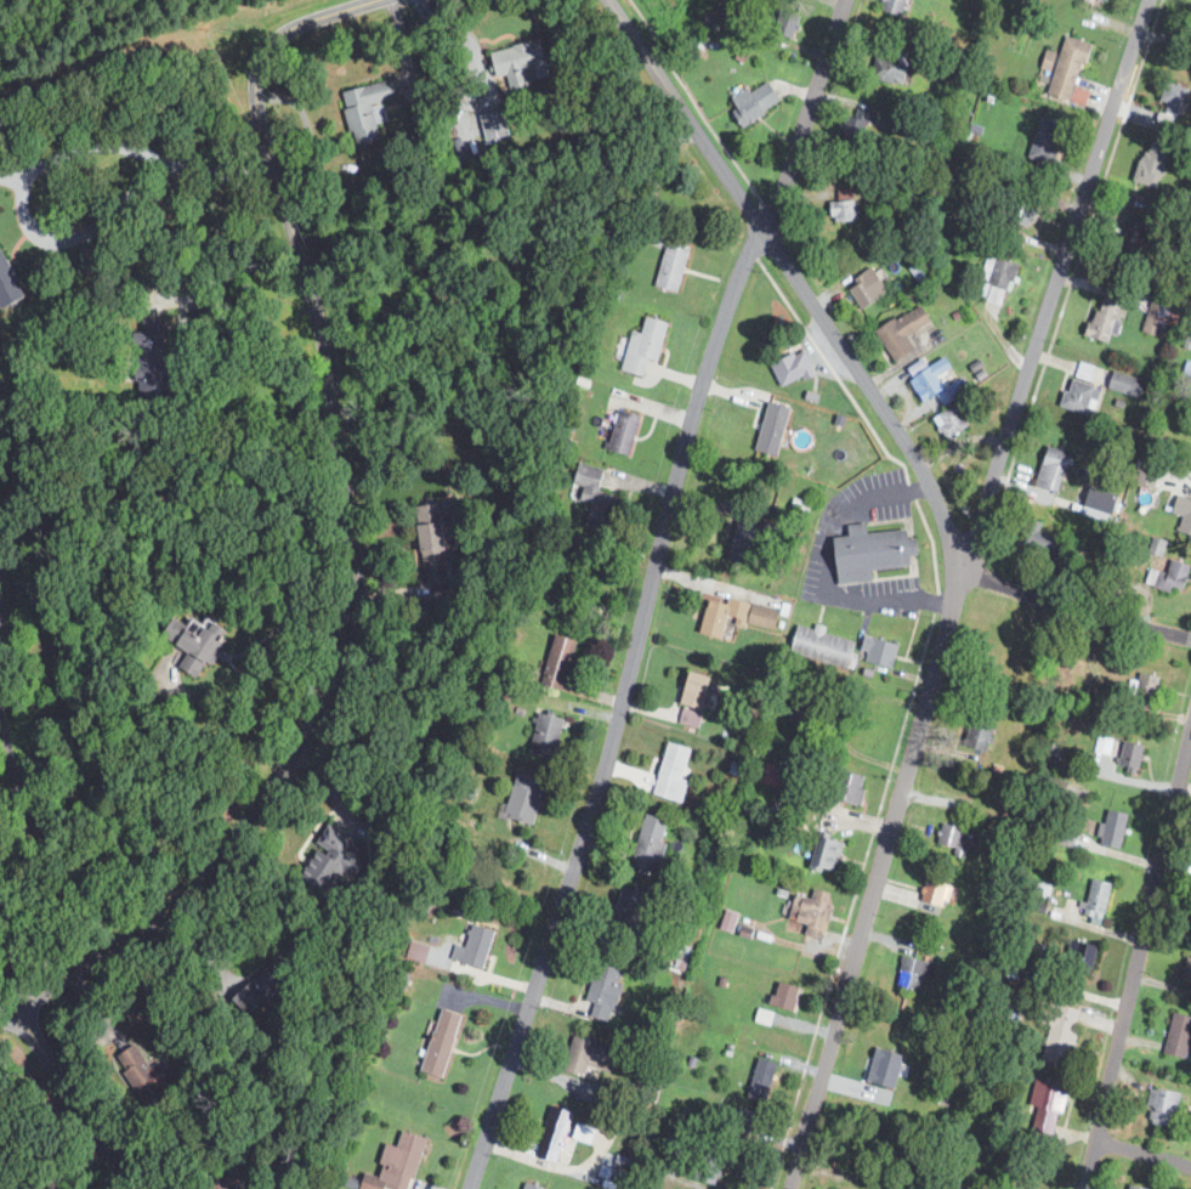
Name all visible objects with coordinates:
building: (896, 6)
building: (788, 24)
building: (514, 63)
building: (891, 69)
building: (1071, 69)
building: (1169, 97)
building: (758, 101)
building: (363, 111)
building: (857, 125)
building: (1048, 141)
road: (44, 164)
building: (1153, 164)
building: (838, 210)
building: (1023, 210)
building: (1130, 240)
building: (674, 266)
road: (229, 270)
building: (998, 276)
road: (795, 277)
building: (6, 285)
building: (868, 288)
road: (1066, 288)
building: (1162, 317)
building: (1108, 319)
building: (904, 332)
building: (645, 346)
building: (794, 369)
building: (1082, 369)
building: (146, 370)
building: (924, 375)
building: (1127, 384)
building: (937, 386)
building: (1082, 397)
building: (953, 421)
building: (775, 430)
building: (626, 434)
building: (1054, 469)
building: (1147, 475)
building: (599, 499)
building: (1184, 513)
road: (351, 536)
building: (427, 538)
building: (748, 538)
building: (1040, 539)
building: (1158, 547)
building: (872, 553)
road: (823, 571)
building: (1172, 578)
road: (954, 588)
road: (647, 590)
road: (1071, 607)
building: (738, 616)
building: (198, 645)
building: (824, 647)
building: (880, 652)
building: (560, 662)
building: (1147, 690)
building: (696, 700)
road: (908, 700)
building: (981, 735)
building: (548, 736)
building: (1133, 758)
building: (674, 774)
building: (849, 788)
building: (527, 798)
building: (1116, 830)
building: (1065, 834)
building: (954, 838)
building: (651, 843)
building: (828, 854)
building: (334, 865)
road: (22, 866)
building: (938, 891)
building: (1095, 898)
building: (812, 913)
building: (1022, 930)
building: (476, 947)
building: (1081, 956)
road: (1138, 959)
building: (1187, 972)
building: (913, 973)
building: (266, 986)
building: (606, 992)
building: (787, 996)
road: (7, 1013)
building: (1062, 1036)
building: (1180, 1037)
building: (443, 1043)
building: (590, 1057)
building: (880, 1066)
building: (143, 1074)
building: (764, 1081)
building: (873, 1089)
road: (75, 1099)
building: (1049, 1108)
building: (1167, 1109)
building: (737, 1119)
building: (558, 1137)
road: (1144, 1153)
building: (714, 1162)
building: (398, 1165)
building: (226, 1179)
building: (533, 1187)
building: (1139, 1187)
building: (836, 1188)

